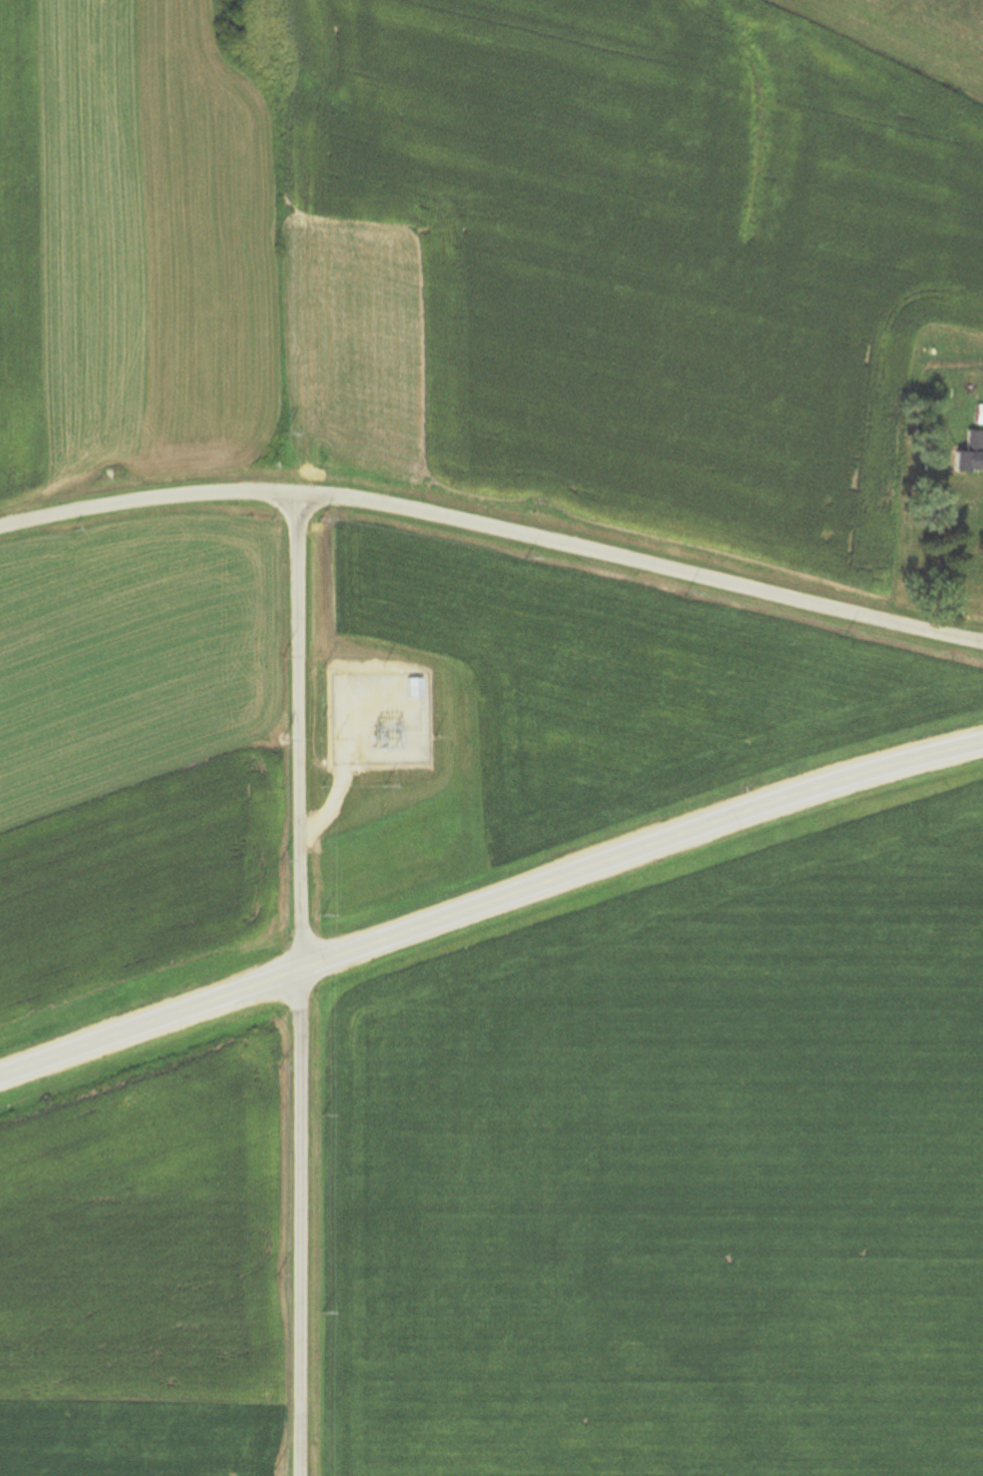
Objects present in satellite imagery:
building: (977, 414)
building: (965, 454)
road: (494, 529)
building: (407, 687)
power substation: (376, 722)
road: (489, 902)
road: (299, 984)

